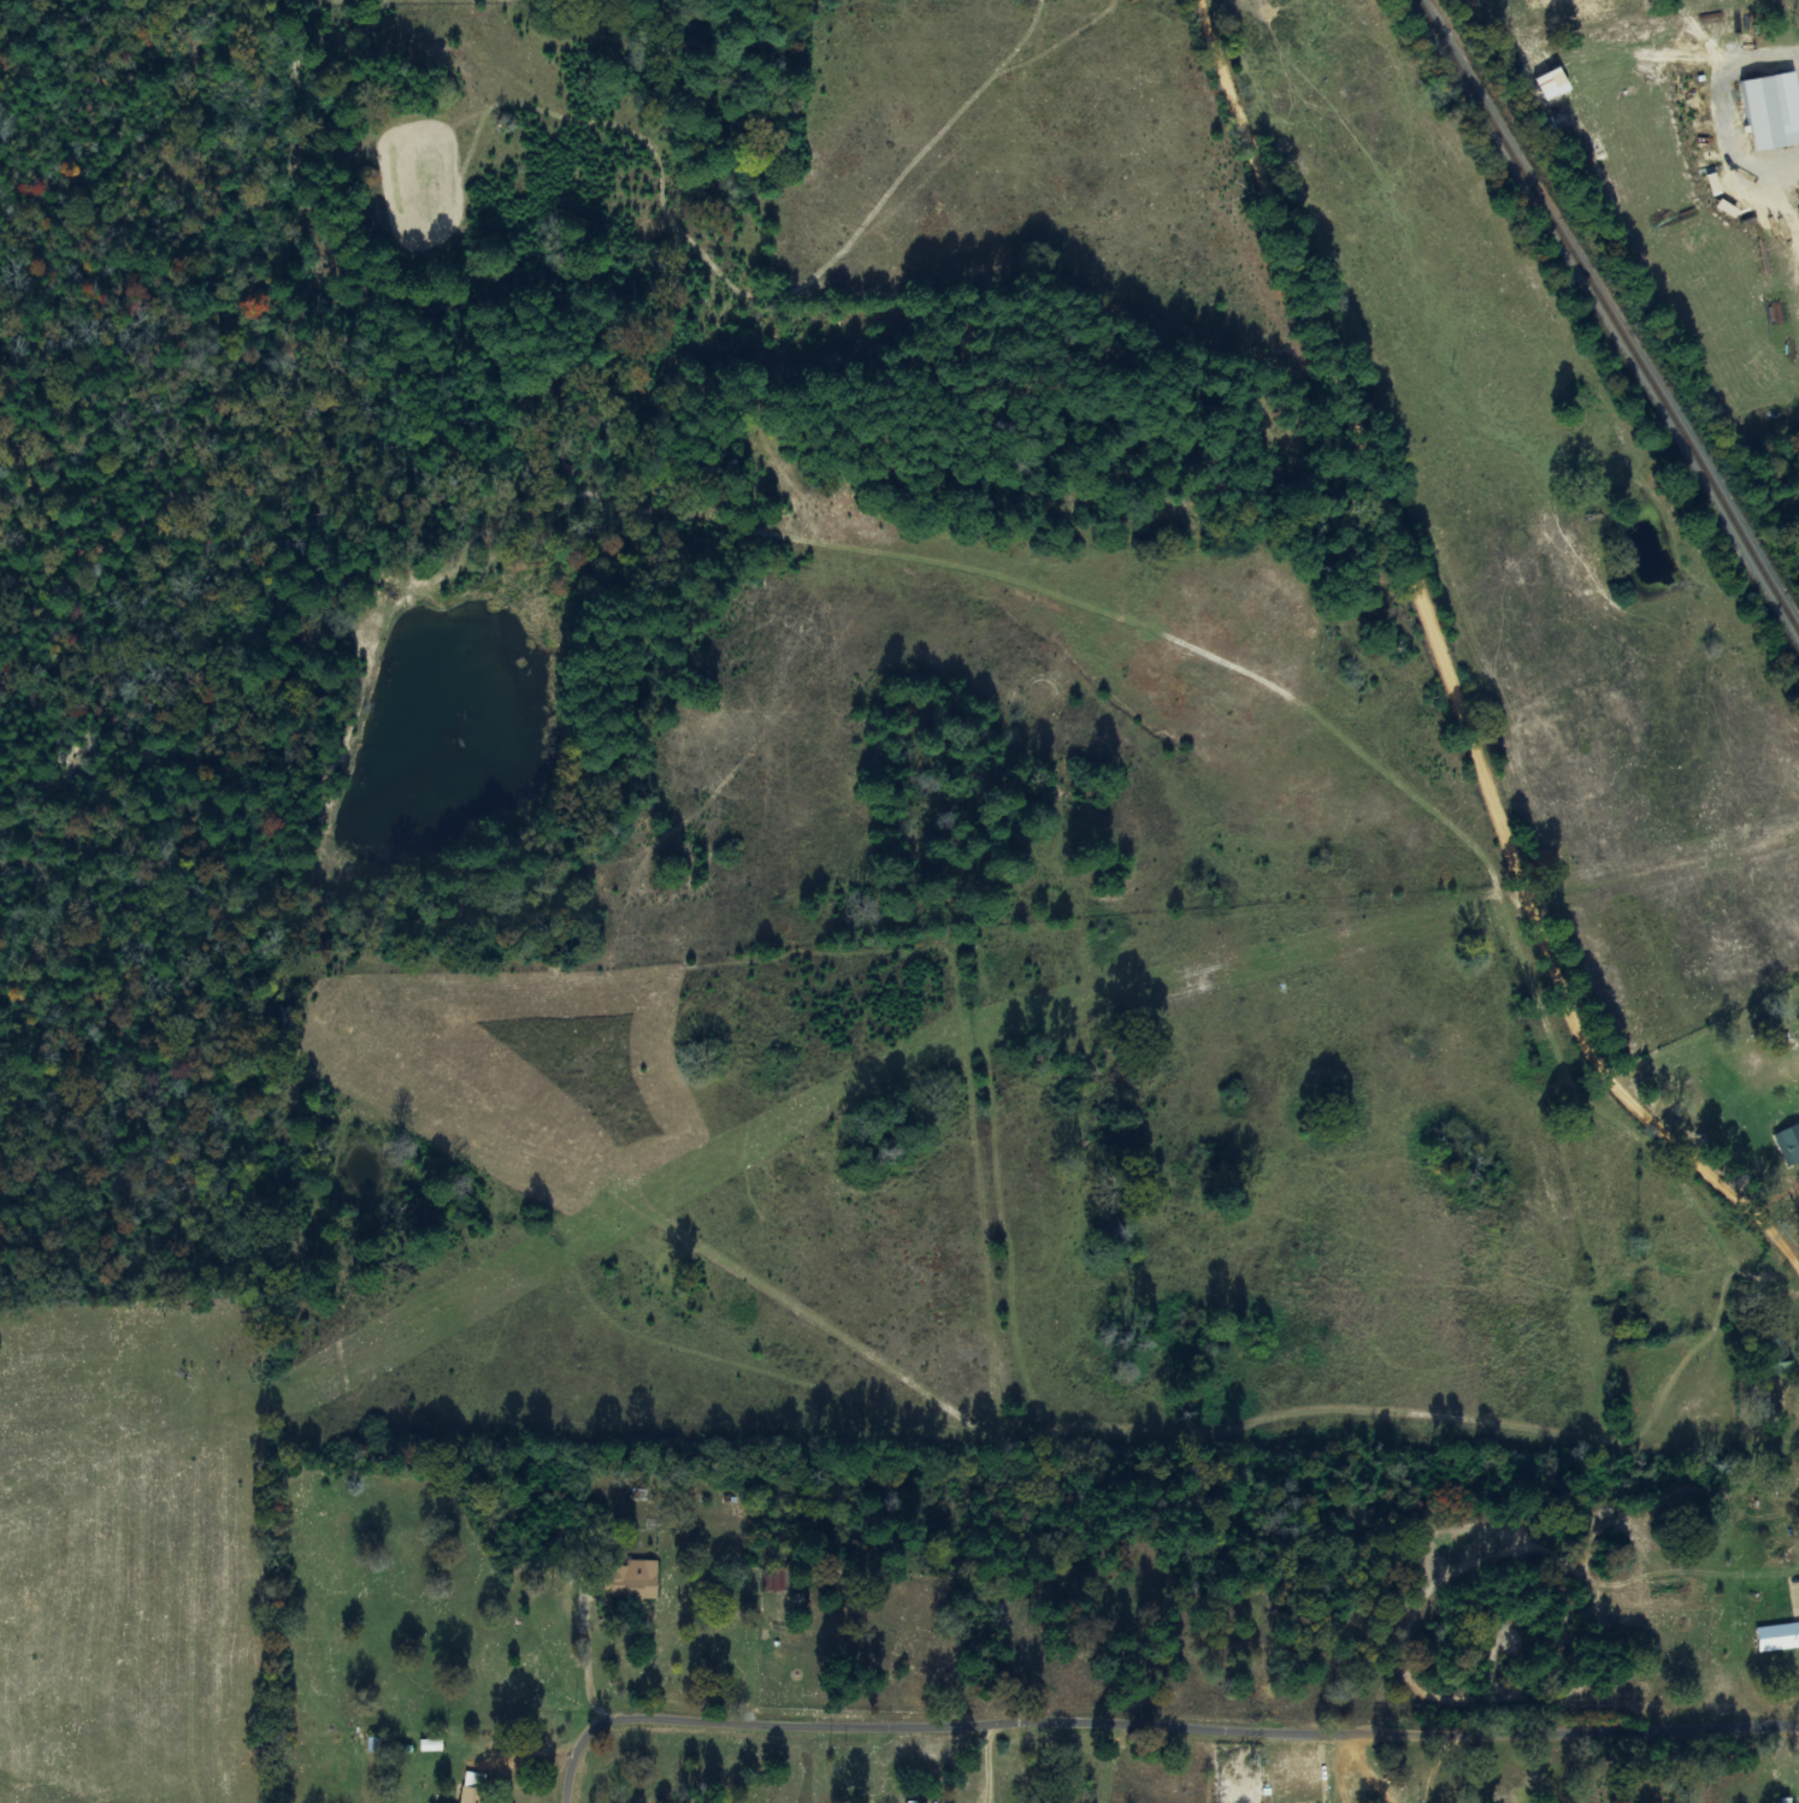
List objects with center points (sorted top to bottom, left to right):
building: (1634, 30)
building: (1773, 112)
railway: (1608, 315)
road: (1447, 646)
building: (1788, 1143)
building: (632, 1580)
building: (1779, 1637)
road: (1152, 1701)
building: (430, 1745)
building: (472, 1795)

